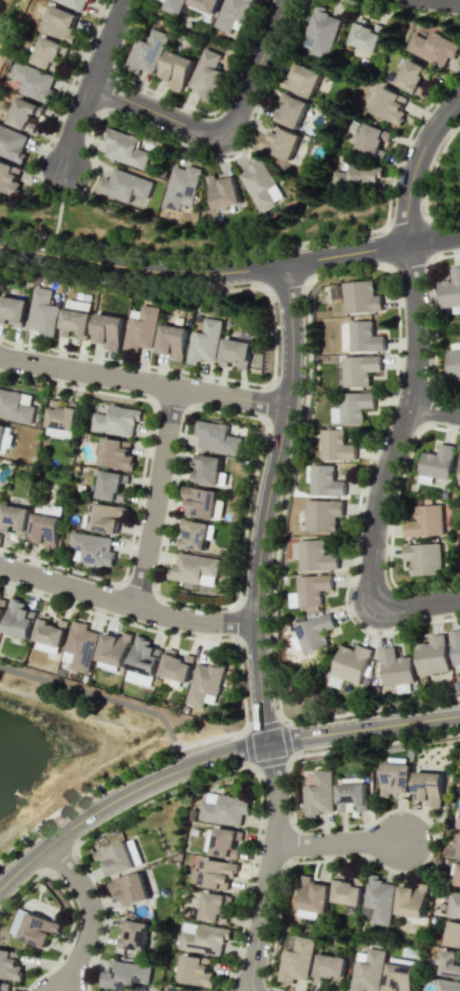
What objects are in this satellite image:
building: (88, 0)
road: (456, 0)
building: (73, 4)
building: (172, 5)
building: (206, 5)
building: (234, 13)
building: (59, 24)
building: (322, 31)
building: (365, 36)
building: (434, 48)
building: (147, 52)
building: (47, 54)
building: (176, 70)
building: (207, 75)
building: (412, 75)
building: (302, 79)
building: (33, 81)
road: (89, 82)
building: (388, 105)
building: (291, 110)
street lamp: (213, 114)
building: (23, 115)
street lamp: (128, 118)
road: (222, 130)
street lamp: (409, 136)
building: (372, 139)
building: (280, 142)
building: (12, 144)
building: (125, 148)
road: (451, 153)
road: (414, 163)
building: (357, 176)
building: (9, 179)
park: (444, 181)
building: (125, 185)
building: (260, 185)
building: (181, 186)
street lamp: (85, 189)
building: (223, 191)
street lamp: (369, 232)
road: (371, 248)
street lamp: (442, 253)
road: (140, 268)
building: (450, 289)
building: (336, 291)
building: (361, 297)
building: (13, 310)
building: (42, 312)
building: (75, 322)
building: (140, 328)
building: (106, 330)
street lamp: (276, 332)
building: (364, 337)
building: (171, 340)
building: (204, 342)
building: (235, 353)
building: (453, 363)
building: (357, 370)
street lamp: (50, 380)
road: (143, 380)
street lamp: (394, 389)
street lamp: (302, 404)
building: (15, 407)
building: (352, 407)
road: (433, 409)
building: (61, 419)
building: (116, 421)
road: (399, 422)
building: (217, 438)
building: (335, 445)
building: (116, 454)
building: (436, 464)
building: (205, 469)
street lamp: (255, 479)
street lamp: (173, 480)
building: (325, 481)
building: (111, 485)
street lamp: (394, 494)
road: (154, 496)
building: (201, 502)
road: (265, 502)
building: (322, 514)
building: (104, 518)
building: (13, 519)
building: (425, 521)
building: (45, 525)
building: (196, 535)
street lamp: (133, 538)
building: (93, 548)
building: (313, 555)
building: (423, 558)
street lamp: (272, 562)
building: (193, 567)
building: (310, 590)
street lamp: (346, 598)
road: (125, 604)
road: (418, 604)
building: (2, 607)
street lamp: (270, 617)
building: (19, 619)
street lamp: (138, 623)
building: (50, 632)
building: (314, 632)
building: (79, 646)
building: (455, 646)
building: (113, 648)
building: (432, 655)
building: (142, 662)
building: (350, 663)
building: (176, 665)
building: (395, 666)
building: (205, 683)
road: (96, 695)
street lamp: (275, 699)
road: (363, 727)
street lamp: (305, 751)
building: (395, 779)
building: (428, 787)
road: (122, 794)
building: (352, 797)
building: (226, 808)
street lamp: (109, 819)
building: (459, 824)
street lamp: (259, 830)
road: (336, 842)
building: (225, 843)
building: (454, 850)
building: (134, 852)
street lamp: (335, 857)
building: (115, 858)
road: (268, 866)
building: (218, 874)
building: (458, 877)
street lamp: (97, 885)
building: (130, 889)
building: (346, 891)
building: (312, 895)
building: (377, 900)
building: (410, 901)
building: (454, 904)
building: (213, 907)
road: (89, 913)
street lamp: (274, 914)
building: (38, 930)
building: (451, 934)
building: (134, 935)
building: (203, 938)
street lamp: (62, 955)
building: (295, 961)
building: (448, 963)
building: (10, 964)
building: (329, 968)
building: (195, 971)
building: (366, 971)
building: (124, 975)
building: (397, 977)
building: (446, 985)
building: (4, 986)
building: (198, 990)
street lamp: (224, 990)
road: (252, 990)

